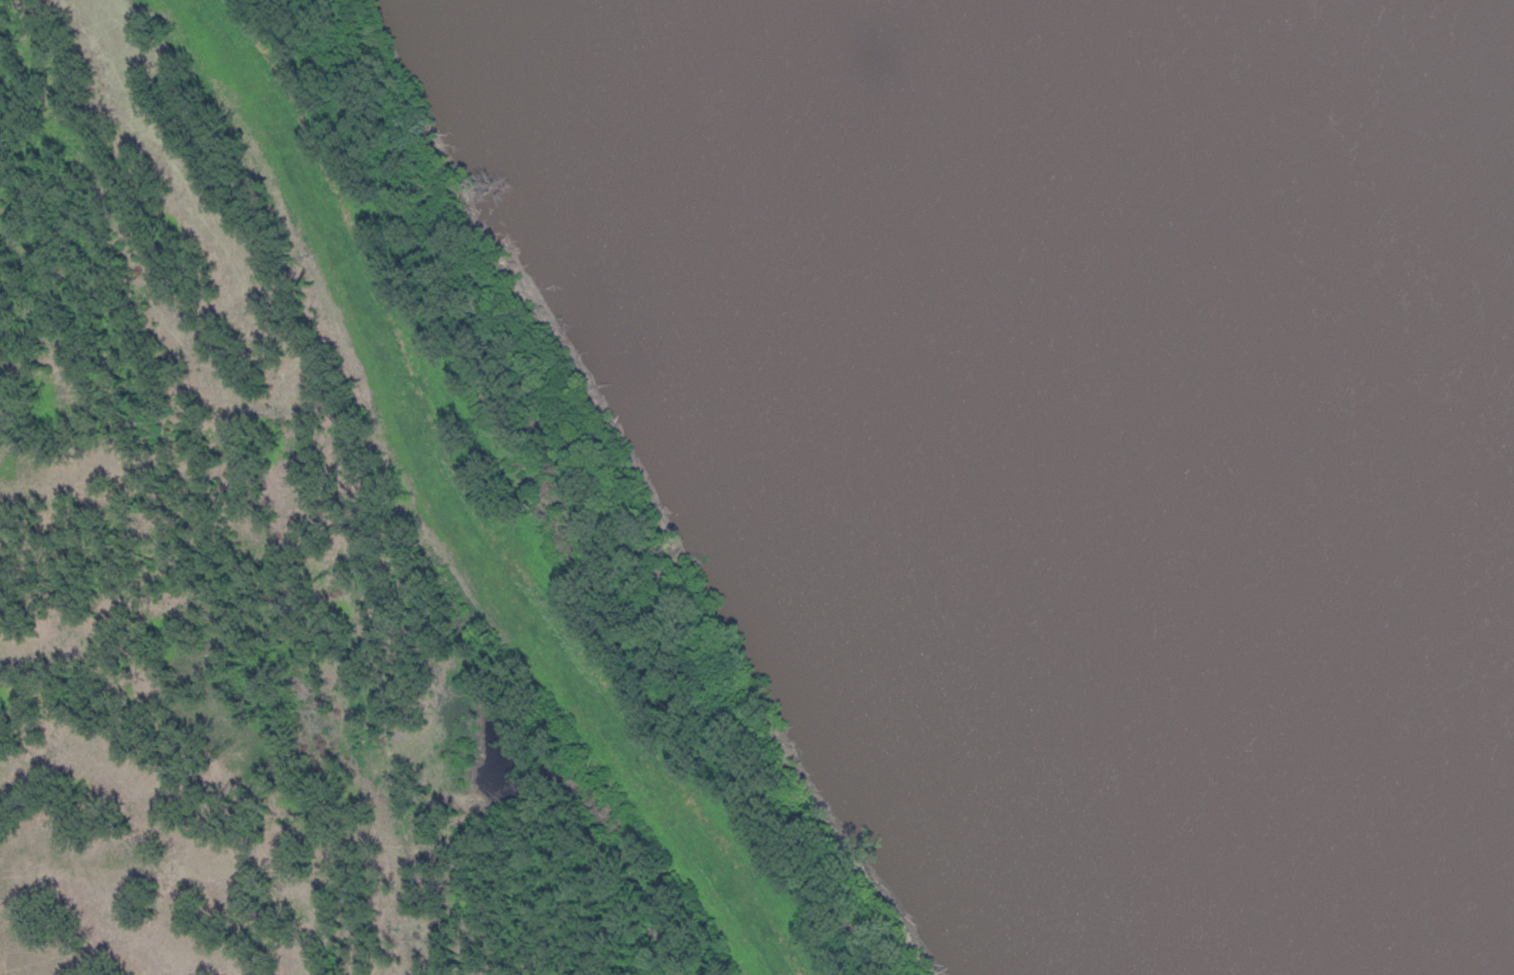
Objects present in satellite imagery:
river: (1346, 421)

